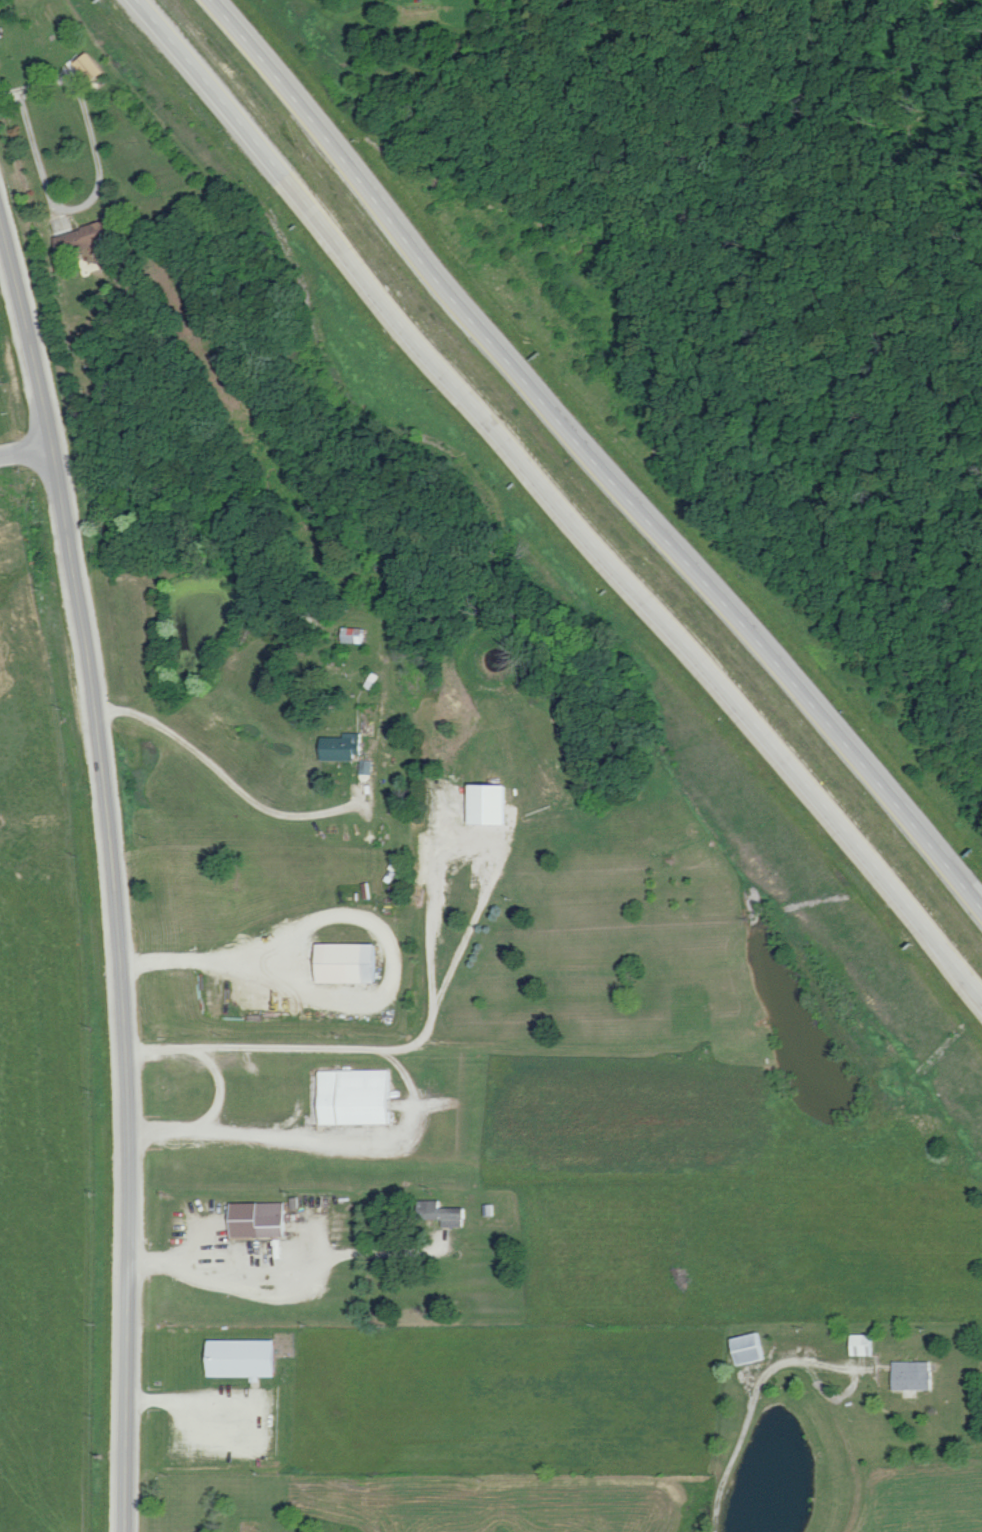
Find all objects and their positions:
building: (92, 67)
road: (58, 204)
building: (92, 240)
road: (25, 449)
road: (598, 452)
road: (562, 505)
building: (356, 635)
building: (344, 747)
building: (367, 767)
road: (252, 802)
building: (494, 804)
road: (112, 874)
road: (212, 961)
building: (352, 963)
road: (414, 1045)
road: (216, 1082)
building: (359, 1097)
road: (315, 1146)
building: (443, 1213)
building: (262, 1219)
road: (291, 1260)
building: (866, 1344)
building: (753, 1348)
building: (247, 1357)
building: (915, 1375)
road: (191, 1399)
road: (740, 1449)

